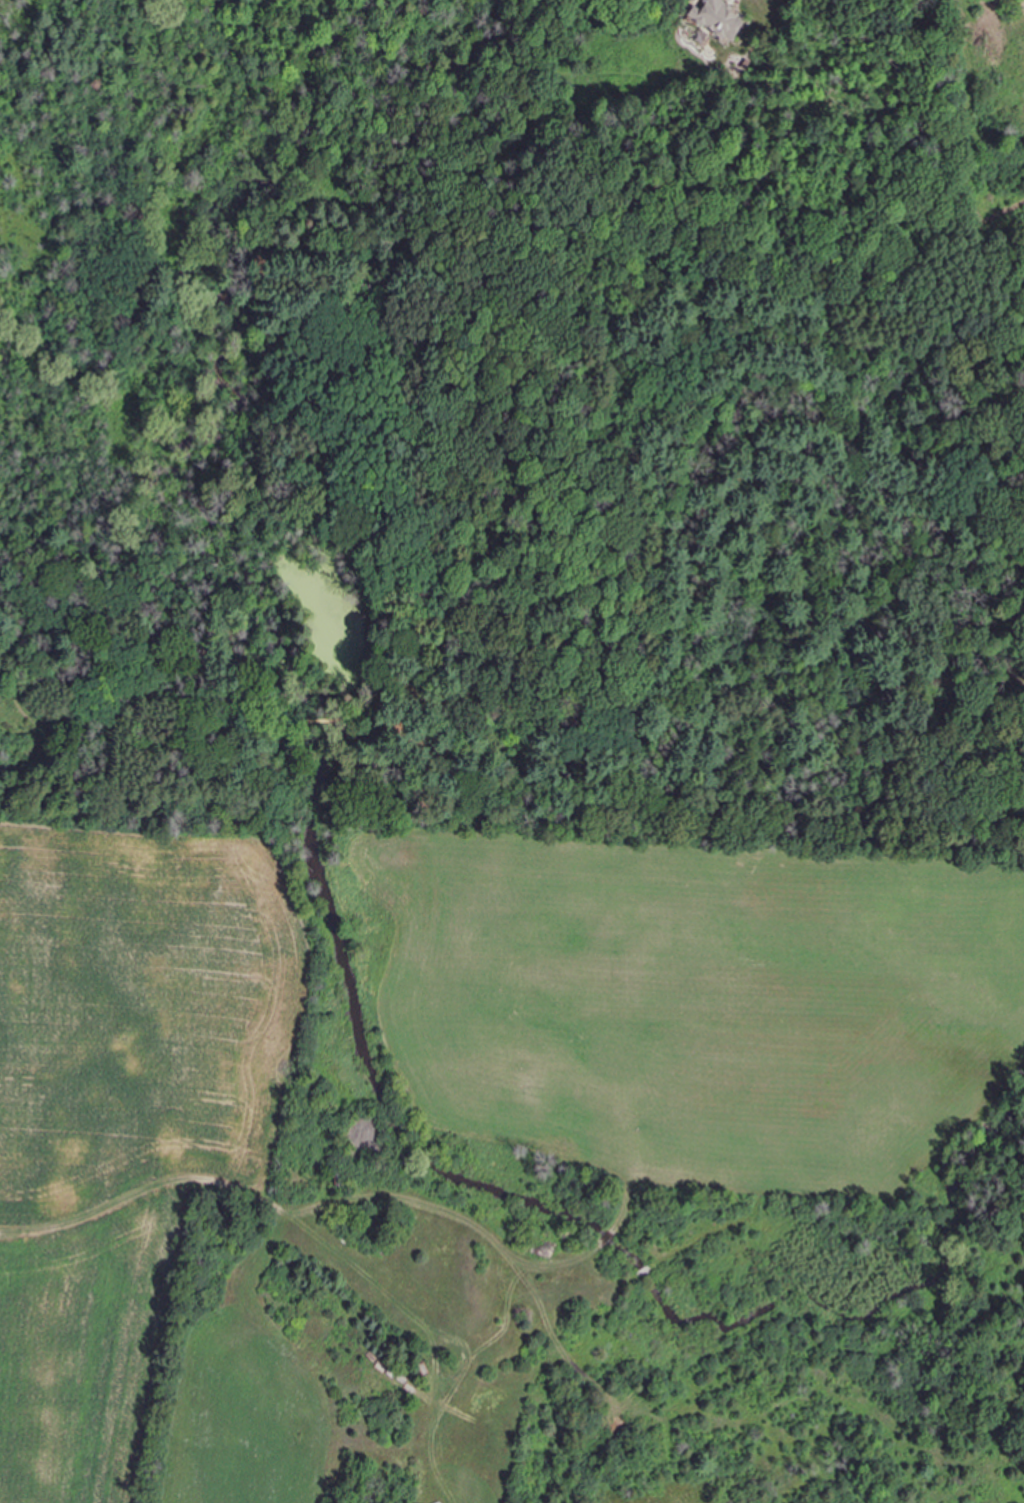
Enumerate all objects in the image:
building: (716, 19)
river: (740, 282)

